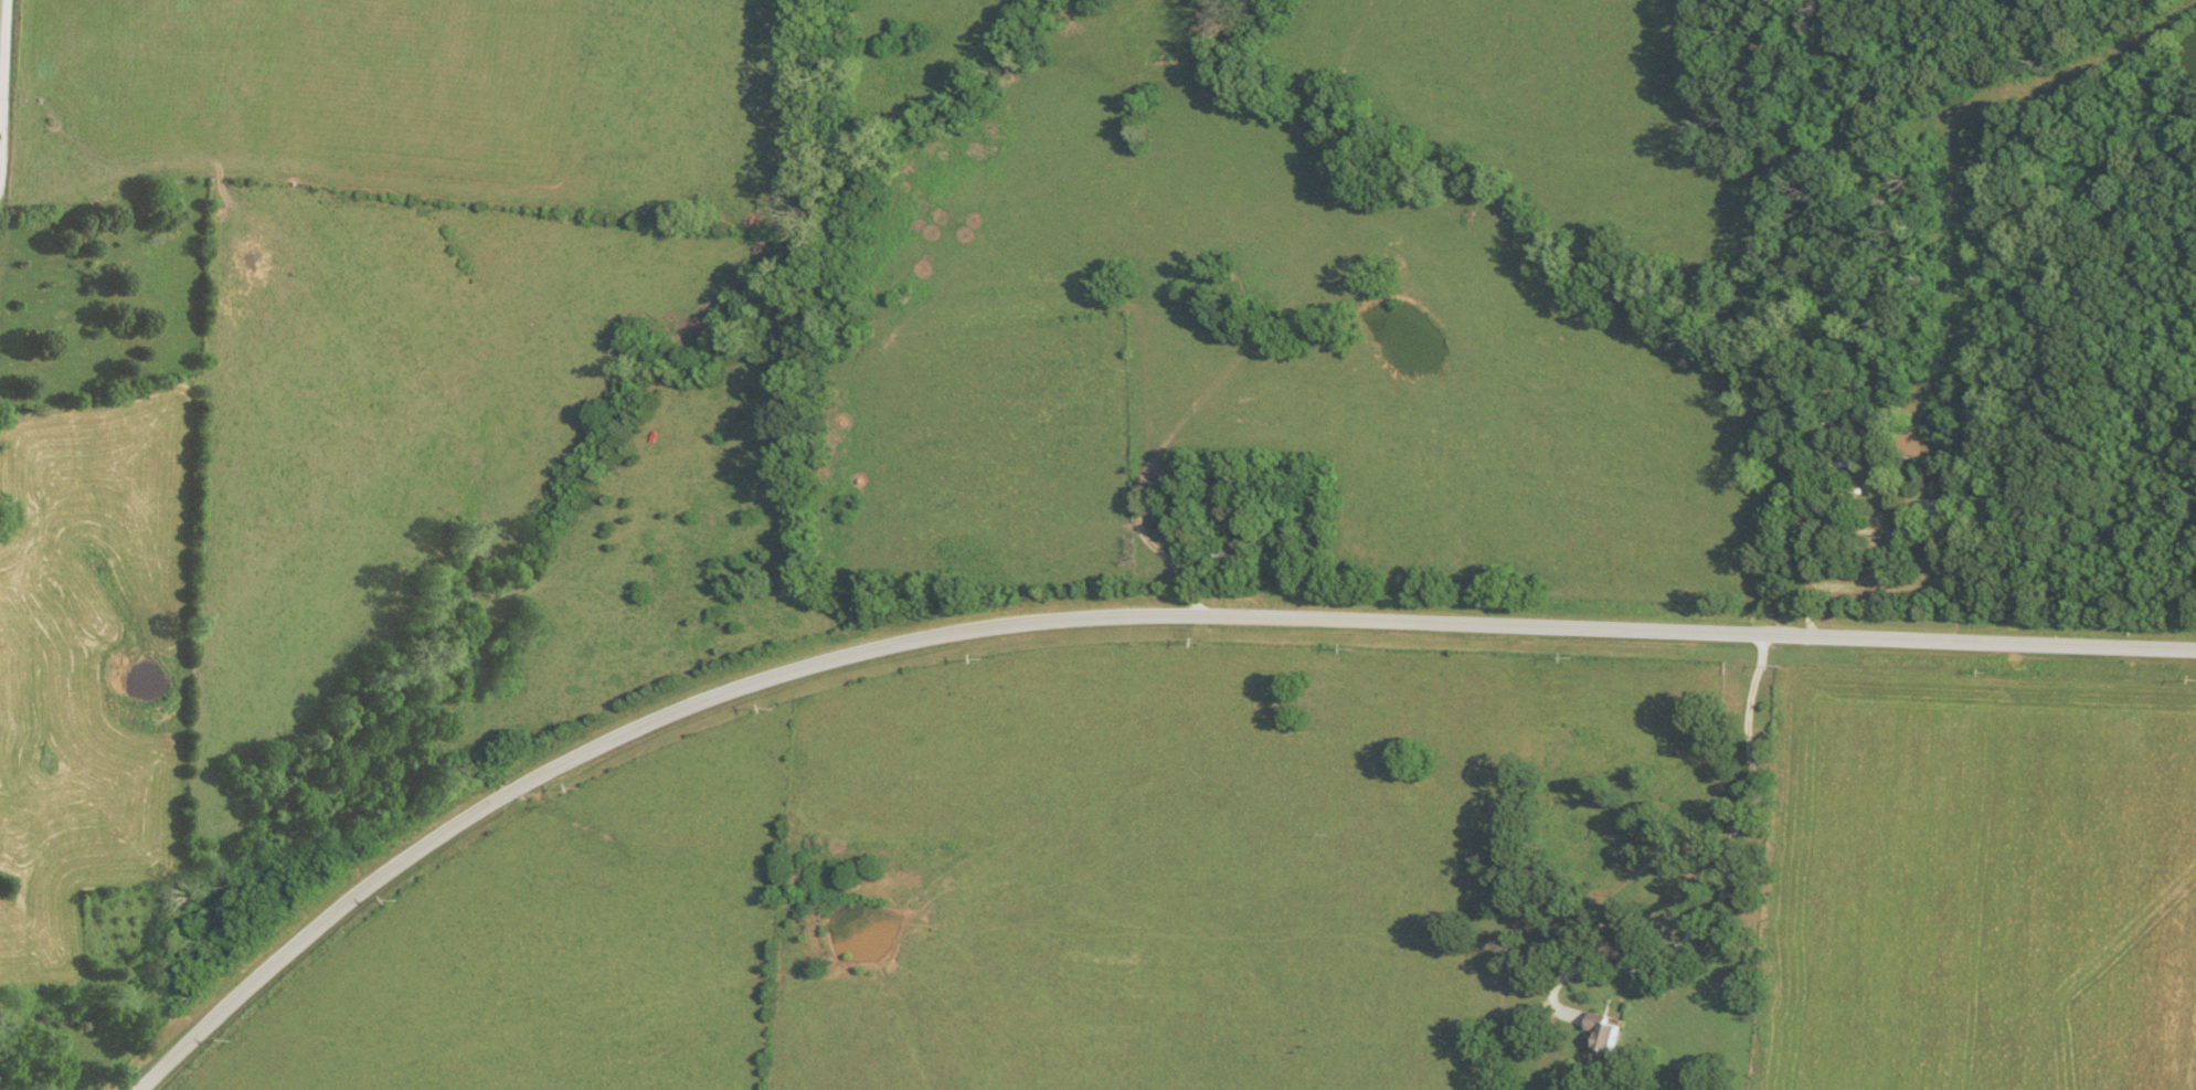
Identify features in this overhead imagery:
road: (2, 42)
road: (1959, 102)
building: (1164, 502)
building: (1897, 538)
building: (1237, 550)
road: (1099, 616)
road: (1715, 816)
building: (1611, 1031)

